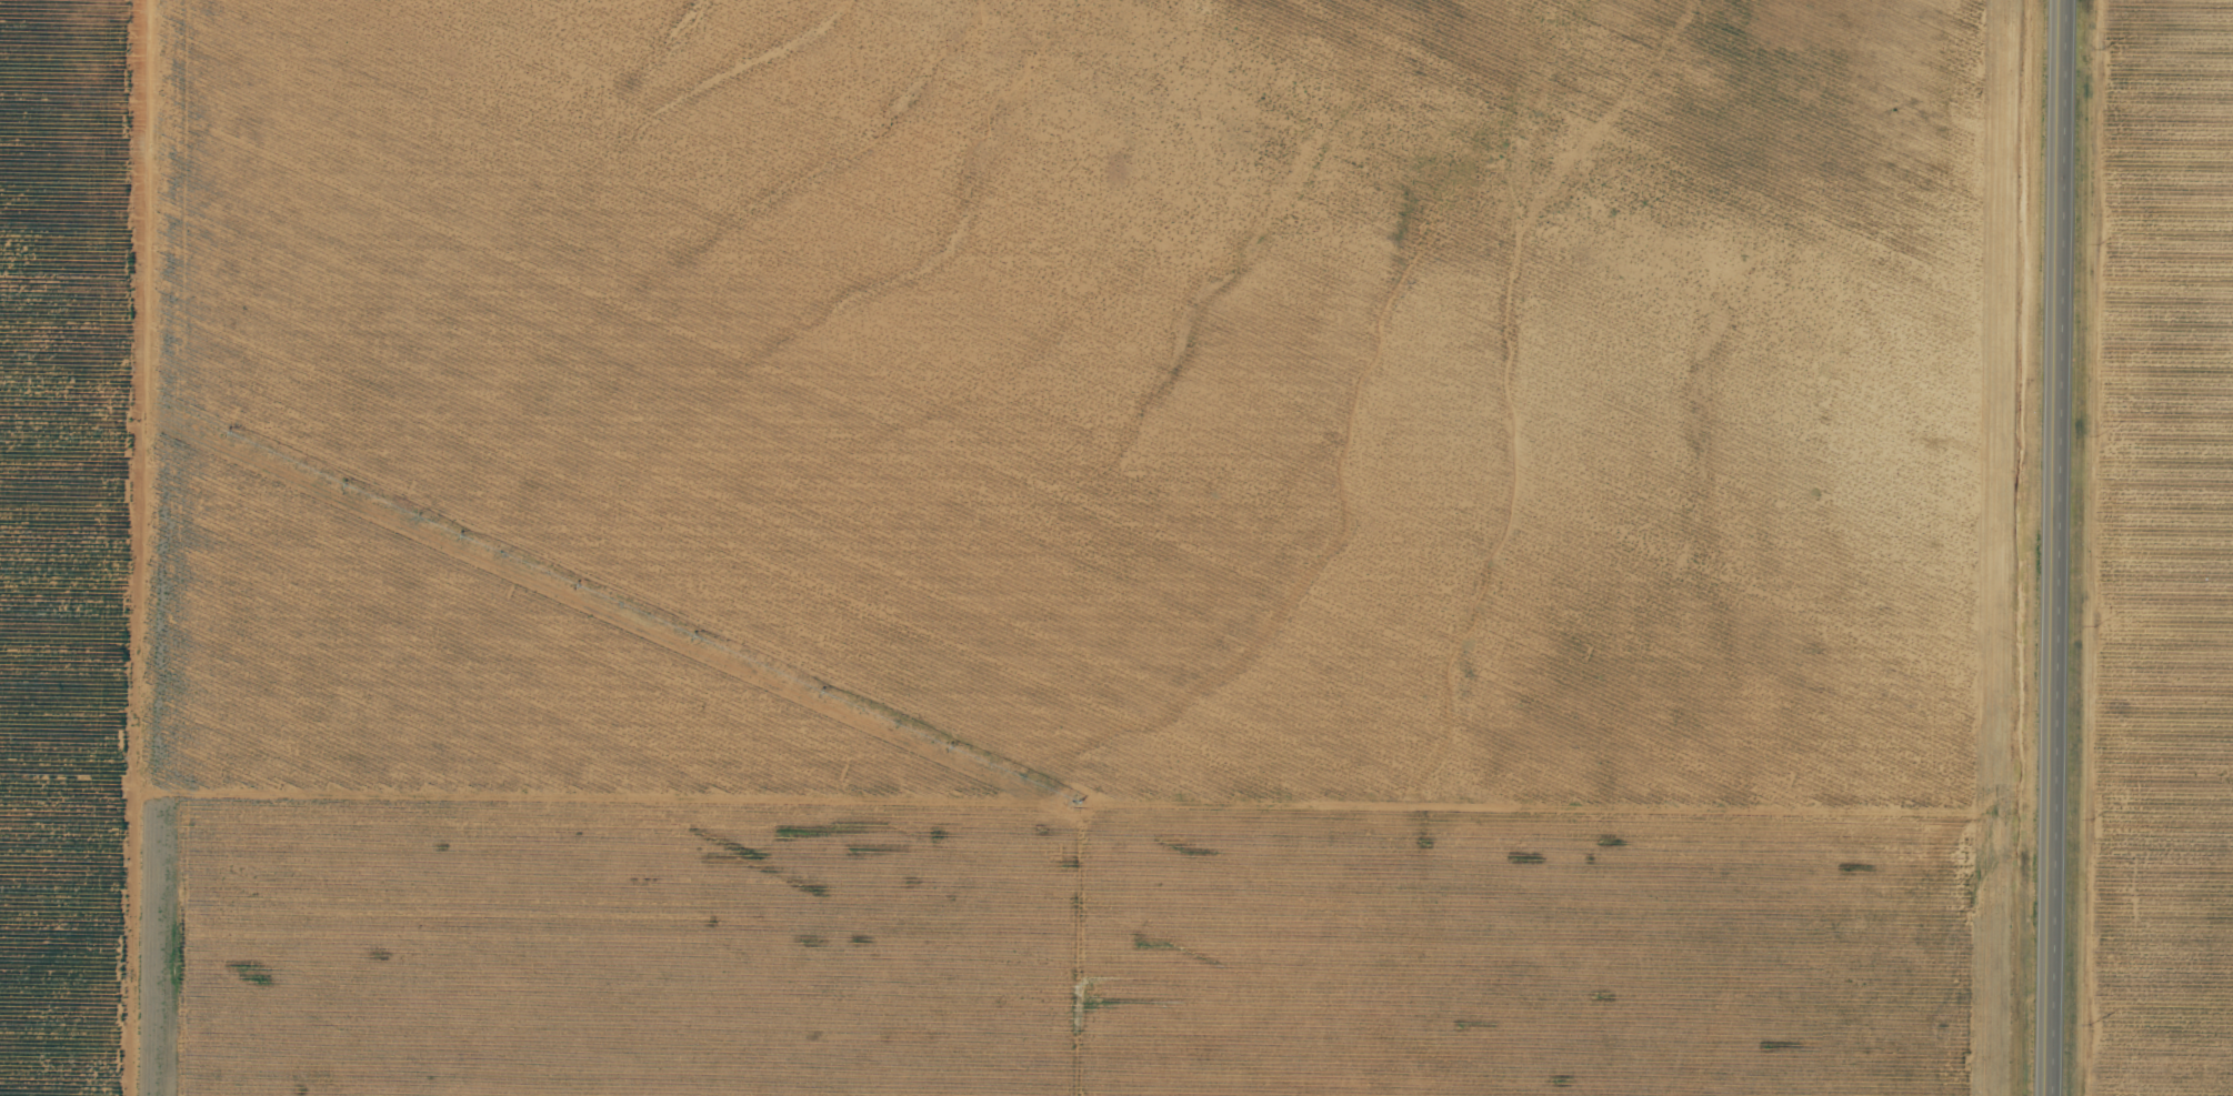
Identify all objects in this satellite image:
road: (167, 547)
road: (2067, 547)

